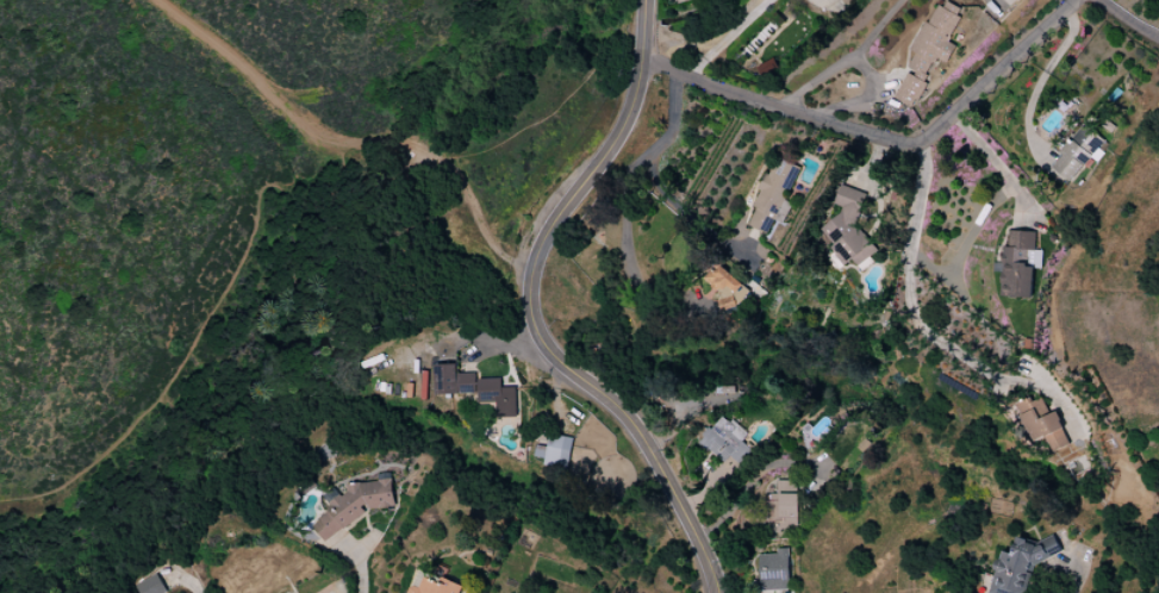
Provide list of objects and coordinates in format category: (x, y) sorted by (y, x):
building: (846, 1)
road: (1129, 19)
road: (729, 37)
building: (929, 51)
road: (847, 62)
road: (861, 100)
road: (674, 116)
road: (878, 139)
road: (350, 142)
building: (1078, 151)
building: (774, 195)
road: (920, 196)
road: (679, 205)
road: (990, 207)
building: (848, 229)
road: (627, 233)
building: (1018, 264)
building: (728, 285)
road: (530, 313)
road: (450, 343)
road: (952, 350)
building: (454, 381)
building: (498, 397)
building: (1043, 423)
building: (724, 441)
building: (555, 451)
road: (746, 482)
building: (353, 505)
building: (784, 507)
building: (1021, 564)
building: (774, 570)
road: (361, 575)
building: (150, 586)
building: (437, 586)

